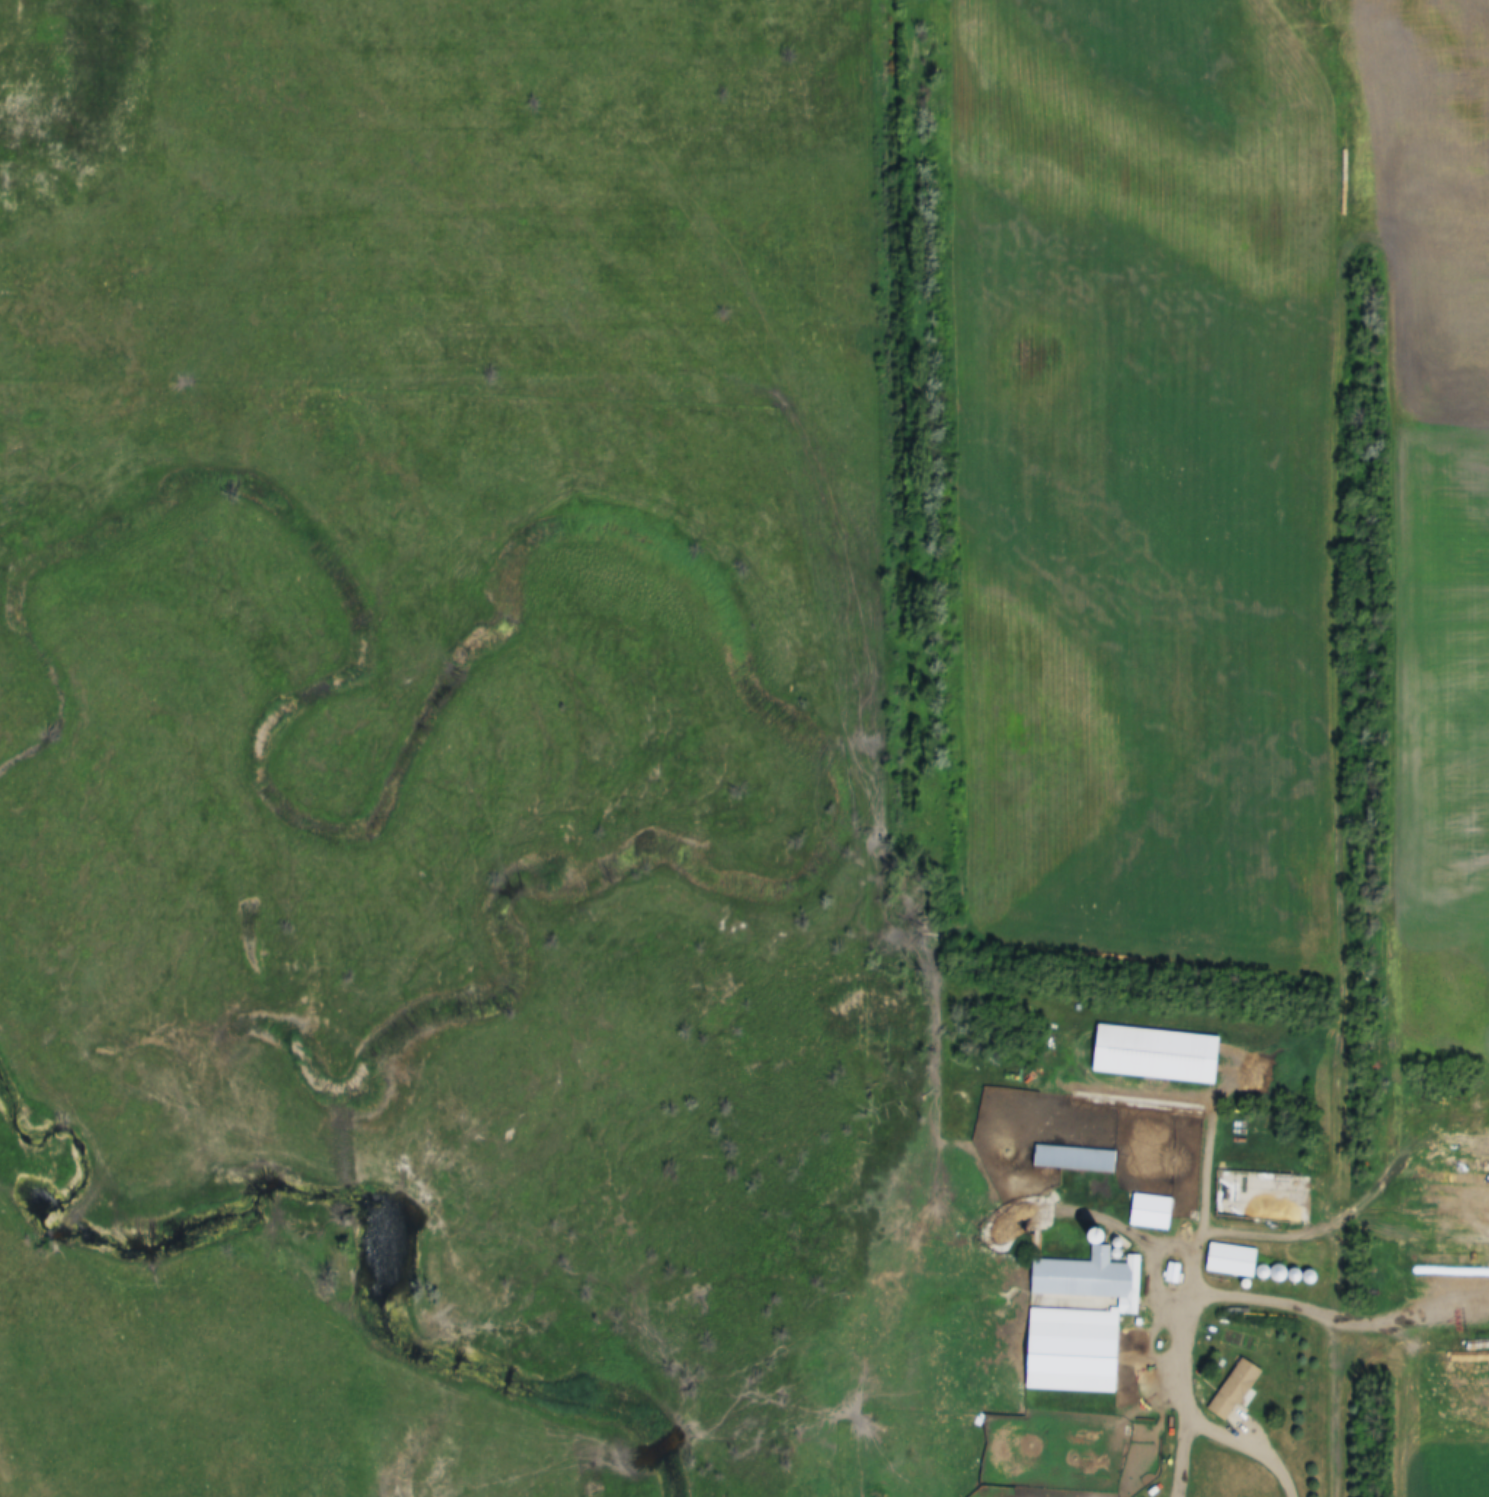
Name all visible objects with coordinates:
building: (1160, 1055)
building: (1075, 1159)
building: (1153, 1212)
building: (1234, 1260)
road: (1221, 1295)
building: (1465, 1317)
building: (1081, 1322)
building: (1237, 1390)
road: (1182, 1447)

